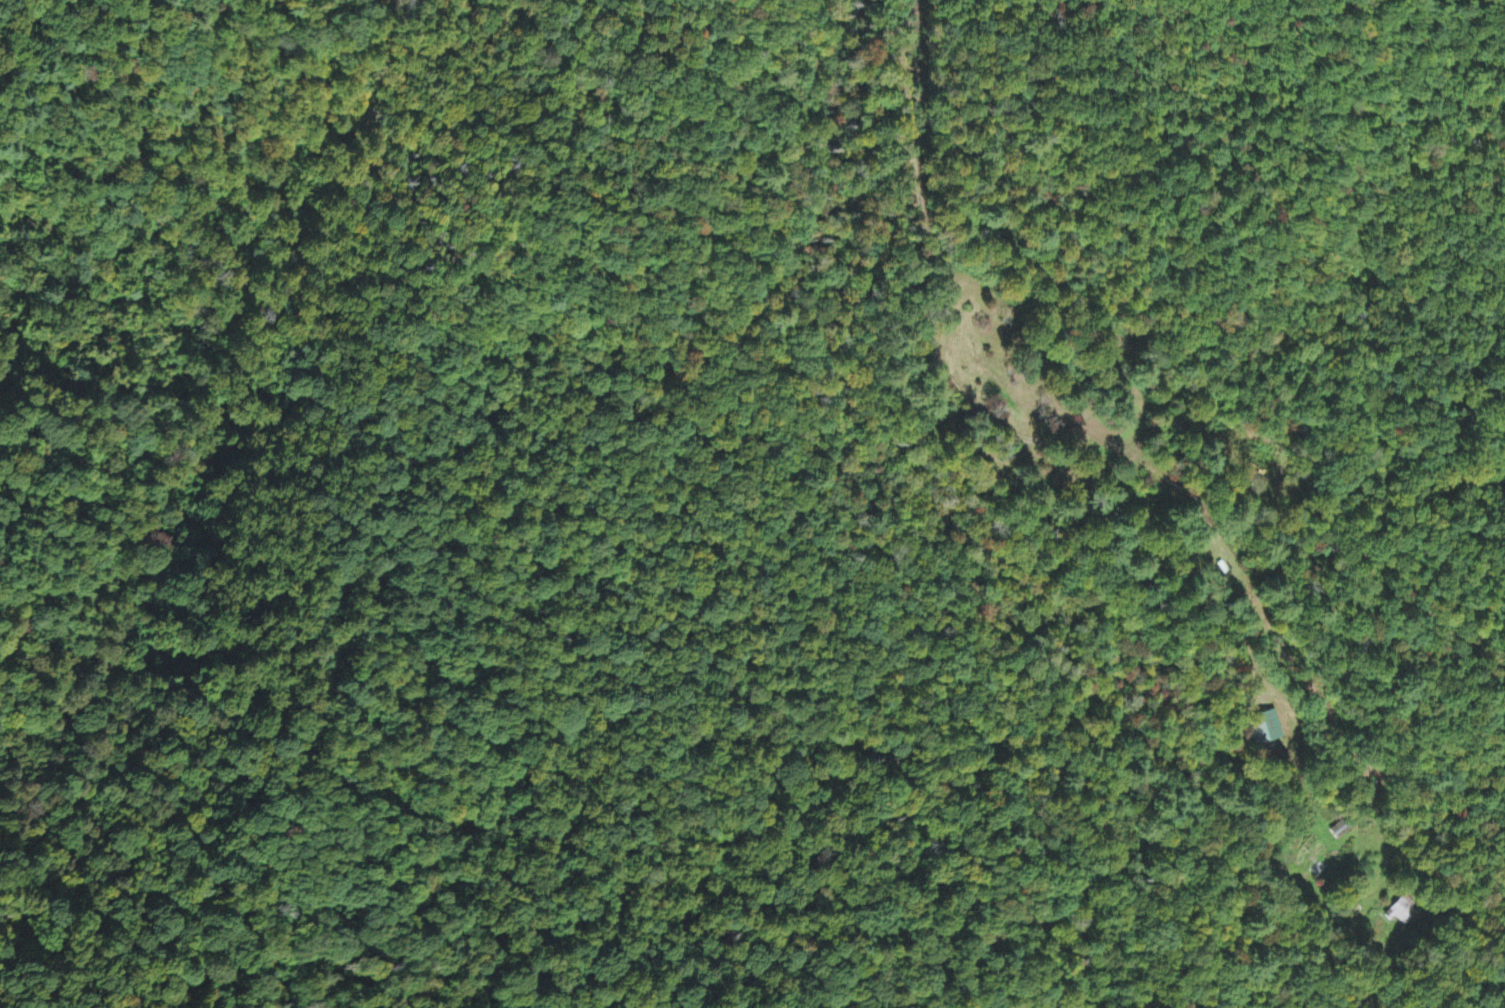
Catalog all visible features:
road: (427, 84)
road: (894, 101)
road: (691, 217)
road: (1178, 549)
building: (1268, 728)

